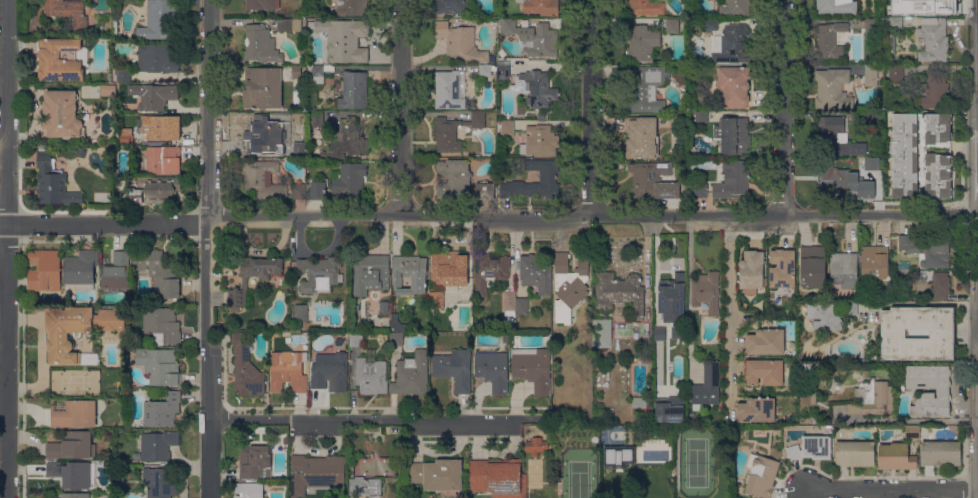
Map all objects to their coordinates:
building: (262, 4)
building: (924, 6)
building: (352, 7)
building: (452, 7)
building: (541, 7)
building: (646, 7)
building: (735, 7)
building: (836, 7)
building: (68, 11)
building: (161, 19)
building: (894, 22)
building: (711, 24)
building: (290, 25)
building: (673, 25)
building: (871, 26)
building: (533, 37)
building: (345, 39)
building: (830, 39)
building: (933, 40)
building: (643, 42)
building: (890, 42)
building: (460, 43)
building: (260, 44)
building: (732, 44)
building: (504, 53)
building: (156, 58)
building: (62, 59)
building: (486, 69)
building: (504, 70)
building: (296, 71)
building: (320, 72)
building: (896, 73)
building: (123, 74)
building: (871, 75)
building: (734, 85)
building: (263, 87)
building: (535, 88)
building: (646, 88)
building: (450, 89)
building: (833, 89)
building: (108, 90)
building: (354, 90)
building: (935, 91)
building: (157, 96)
building: (683, 98)
road: (400, 107)
road: (591, 107)
road: (782, 107)
building: (61, 114)
building: (541, 115)
building: (701, 116)
building: (871, 116)
building: (524, 117)
building: (299, 118)
building: (307, 118)
building: (317, 119)
building: (676, 121)
building: (162, 127)
building: (507, 128)
building: (455, 131)
building: (260, 133)
building: (732, 134)
building: (127, 135)
building: (642, 137)
building: (834, 137)
building: (347, 140)
building: (541, 140)
building: (82, 153)
building: (939, 156)
building: (164, 159)
building: (879, 160)
building: (867, 162)
building: (548, 176)
building: (455, 177)
building: (263, 179)
building: (652, 179)
building: (732, 179)
building: (349, 180)
building: (848, 182)
building: (54, 183)
building: (160, 188)
building: (319, 190)
building: (485, 190)
building: (298, 191)
building: (699, 191)
building: (135, 196)
road: (488, 217)
road: (6, 248)
road: (204, 249)
building: (928, 250)
building: (875, 261)
building: (901, 265)
building: (813, 267)
building: (782, 268)
building: (81, 269)
building: (449, 269)
building: (751, 269)
building: (844, 269)
building: (44, 270)
building: (490, 271)
building: (116, 272)
building: (157, 272)
building: (536, 272)
building: (320, 273)
building: (370, 273)
building: (410, 273)
building: (245, 283)
building: (569, 283)
building: (941, 284)
building: (706, 291)
building: (620, 293)
building: (864, 295)
building: (128, 300)
building: (437, 300)
building: (510, 300)
building: (672, 302)
road: (918, 303)
building: (522, 305)
building: (384, 306)
building: (852, 308)
building: (301, 312)
road: (729, 313)
building: (825, 316)
building: (395, 319)
building: (162, 323)
building: (849, 324)
building: (77, 331)
building: (602, 333)
building: (918, 333)
building: (659, 334)
building: (356, 339)
building: (396, 339)
building: (765, 341)
building: (159, 365)
building: (246, 367)
building: (811, 367)
building: (455, 368)
building: (533, 368)
building: (290, 369)
building: (333, 369)
building: (493, 370)
building: (764, 371)
building: (412, 374)
building: (371, 376)
building: (707, 385)
building: (943, 390)
building: (808, 392)
building: (873, 398)
building: (639, 405)
building: (668, 409)
building: (163, 410)
building: (755, 410)
building: (74, 414)
road: (372, 418)
road: (3, 426)
building: (912, 431)
building: (595, 440)
building: (158, 445)
building: (536, 445)
building: (72, 446)
building: (811, 448)
building: (855, 453)
building: (941, 453)
building: (619, 456)
building: (896, 457)
building: (253, 461)
building: (375, 467)
building: (316, 472)
building: (533, 472)
building: (70, 474)
building: (439, 475)
building: (762, 475)
building: (499, 477)
building: (160, 482)
building: (364, 486)
road: (892, 489)
building: (250, 490)
building: (76, 495)

